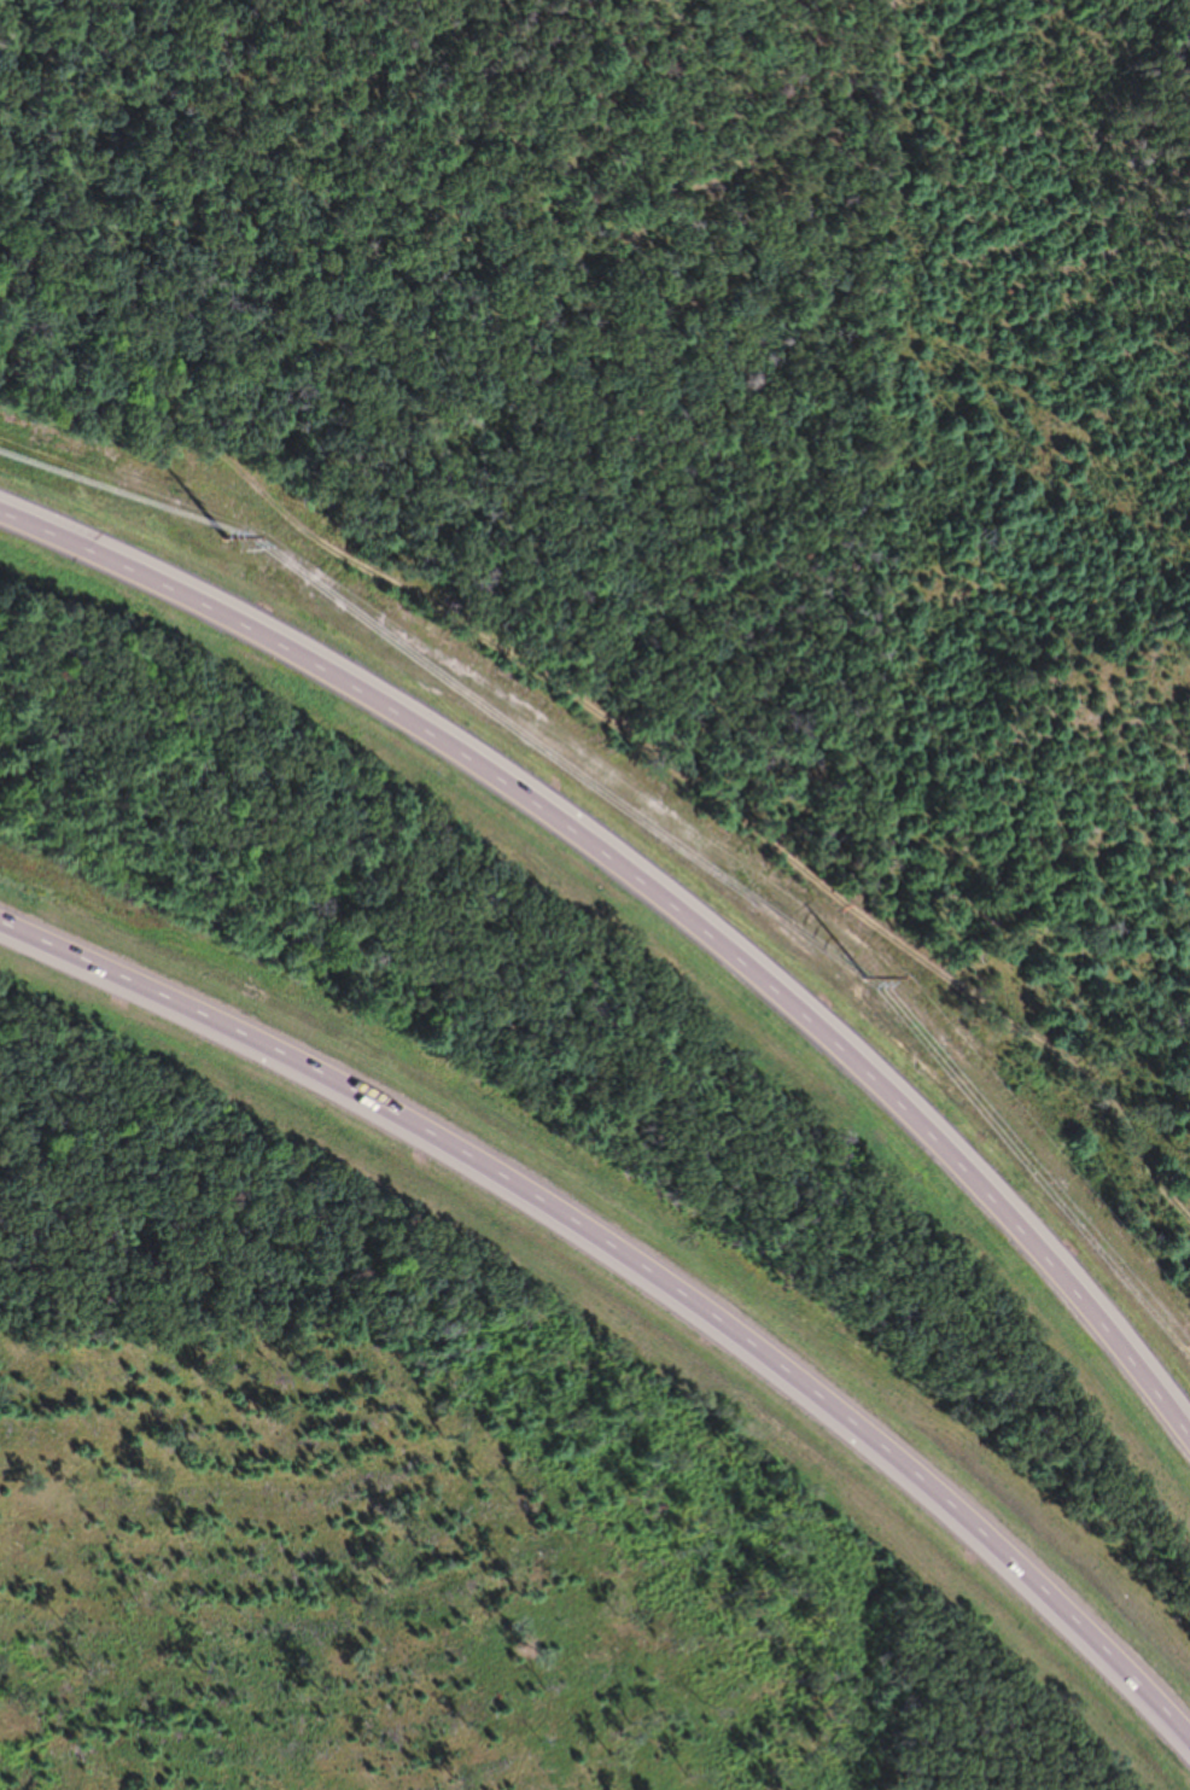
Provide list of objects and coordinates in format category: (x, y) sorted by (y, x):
power tower: (226, 536)
road: (655, 900)
power tower: (864, 975)
road: (644, 1276)

